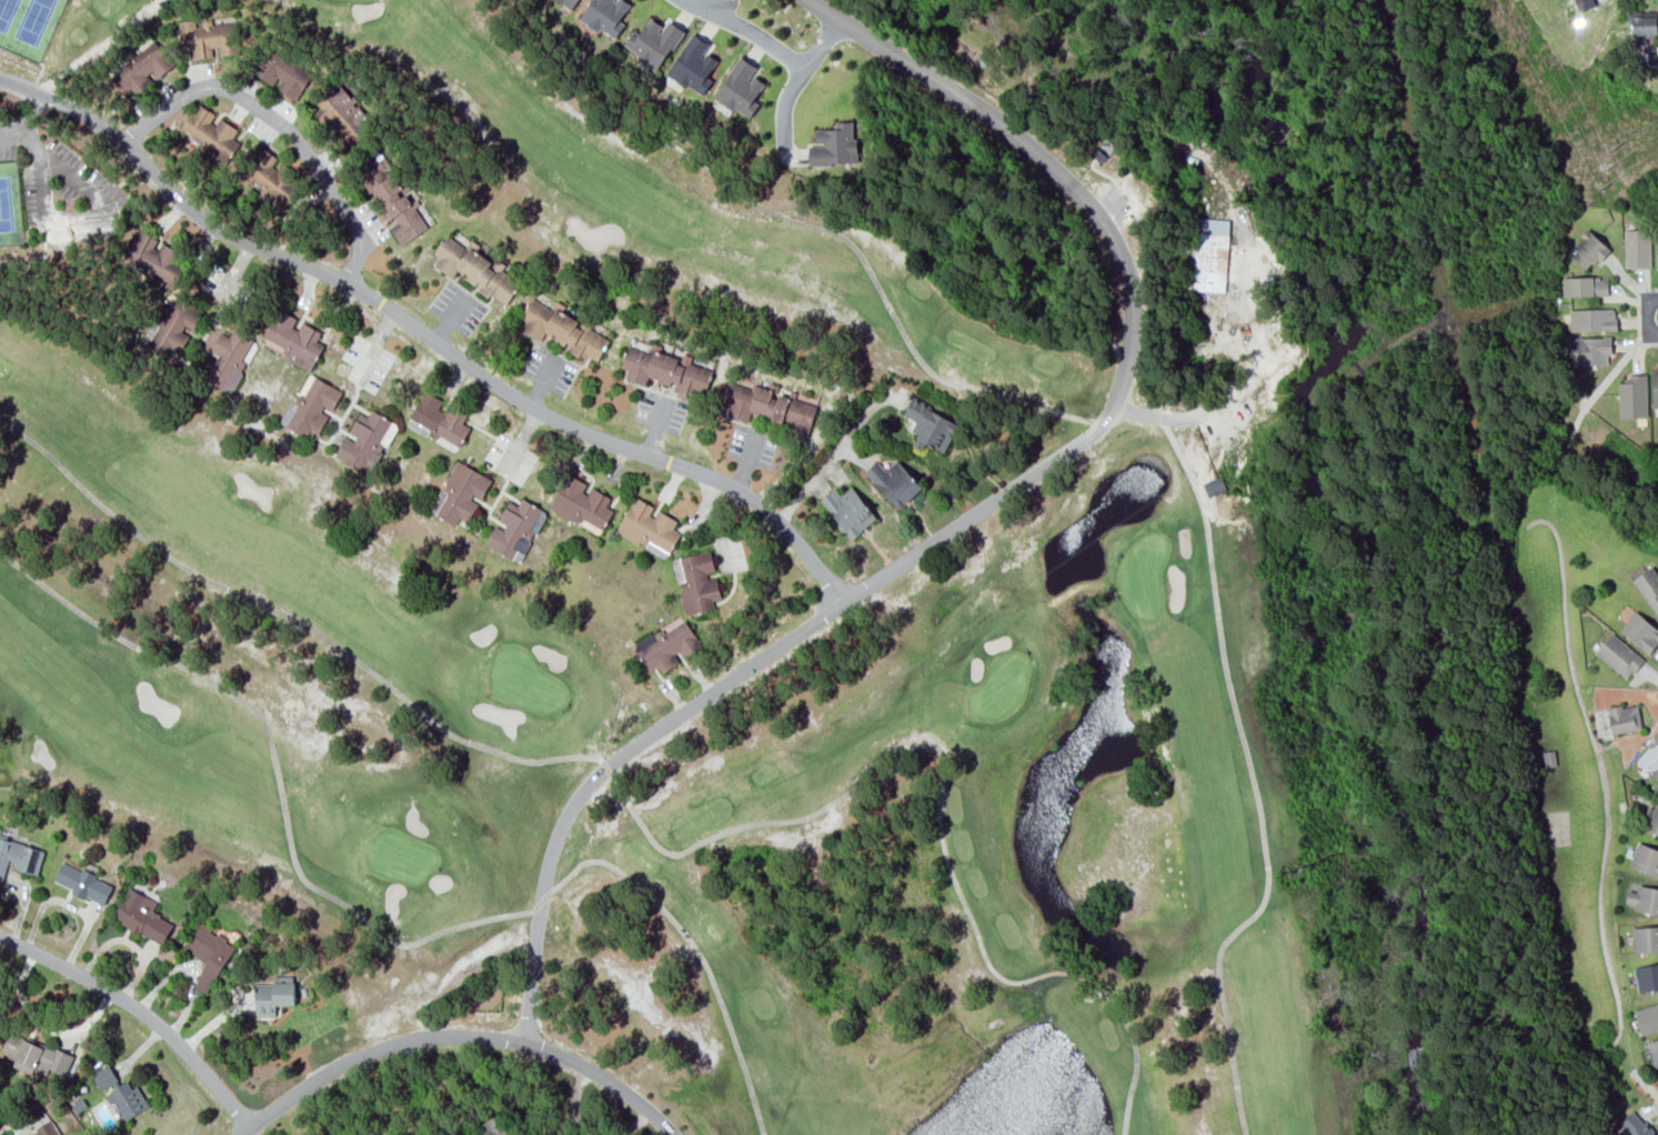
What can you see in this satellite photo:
building: (572, 2)
building: (1584, 3)
building: (605, 14)
building: (1644, 22)
road: (747, 27)
building: (209, 37)
building: (653, 42)
building: (693, 64)
building: (141, 67)
building: (285, 74)
road: (791, 76)
building: (741, 88)
building: (342, 117)
road: (281, 124)
building: (213, 137)
building: (834, 144)
building: (1102, 149)
power tower: (1604, 167)
building: (269, 177)
building: (391, 198)
park: (9, 204)
building: (1589, 248)
building: (1636, 248)
building: (1656, 248)
building: (1208, 253)
building: (154, 258)
building: (475, 268)
building: (1585, 285)
road: (1645, 314)
building: (1591, 318)
building: (171, 324)
building: (563, 329)
road: (426, 337)
building: (292, 339)
building: (1588, 350)
building: (228, 359)
building: (665, 370)
building: (1655, 385)
building: (1632, 395)
building: (771, 405)
building: (313, 406)
building: (439, 419)
building: (932, 425)
building: (365, 441)
building: (894, 482)
building: (1214, 485)
building: (460, 492)
building: (582, 503)
building: (848, 510)
road: (979, 510)
building: (649, 525)
building: (515, 526)
building: (656, 550)
park: (639, 574)
building: (696, 581)
building: (1647, 587)
building: (1640, 631)
building: (667, 646)
building: (1619, 654)
building: (1622, 717)
building: (1649, 757)
building: (1652, 820)
building: (19, 856)
building: (1645, 857)
building: (82, 882)
building: (1644, 898)
building: (142, 915)
building: (1645, 938)
building: (209, 954)
building: (1646, 976)
road: (142, 1010)
building: (1647, 1017)
road: (460, 1034)
building: (1654, 1049)
building: (33, 1055)
building: (104, 1075)
building: (127, 1098)
building: (1636, 1124)
building: (492, 1126)
building: (48, 1131)
road: (251, 1133)

